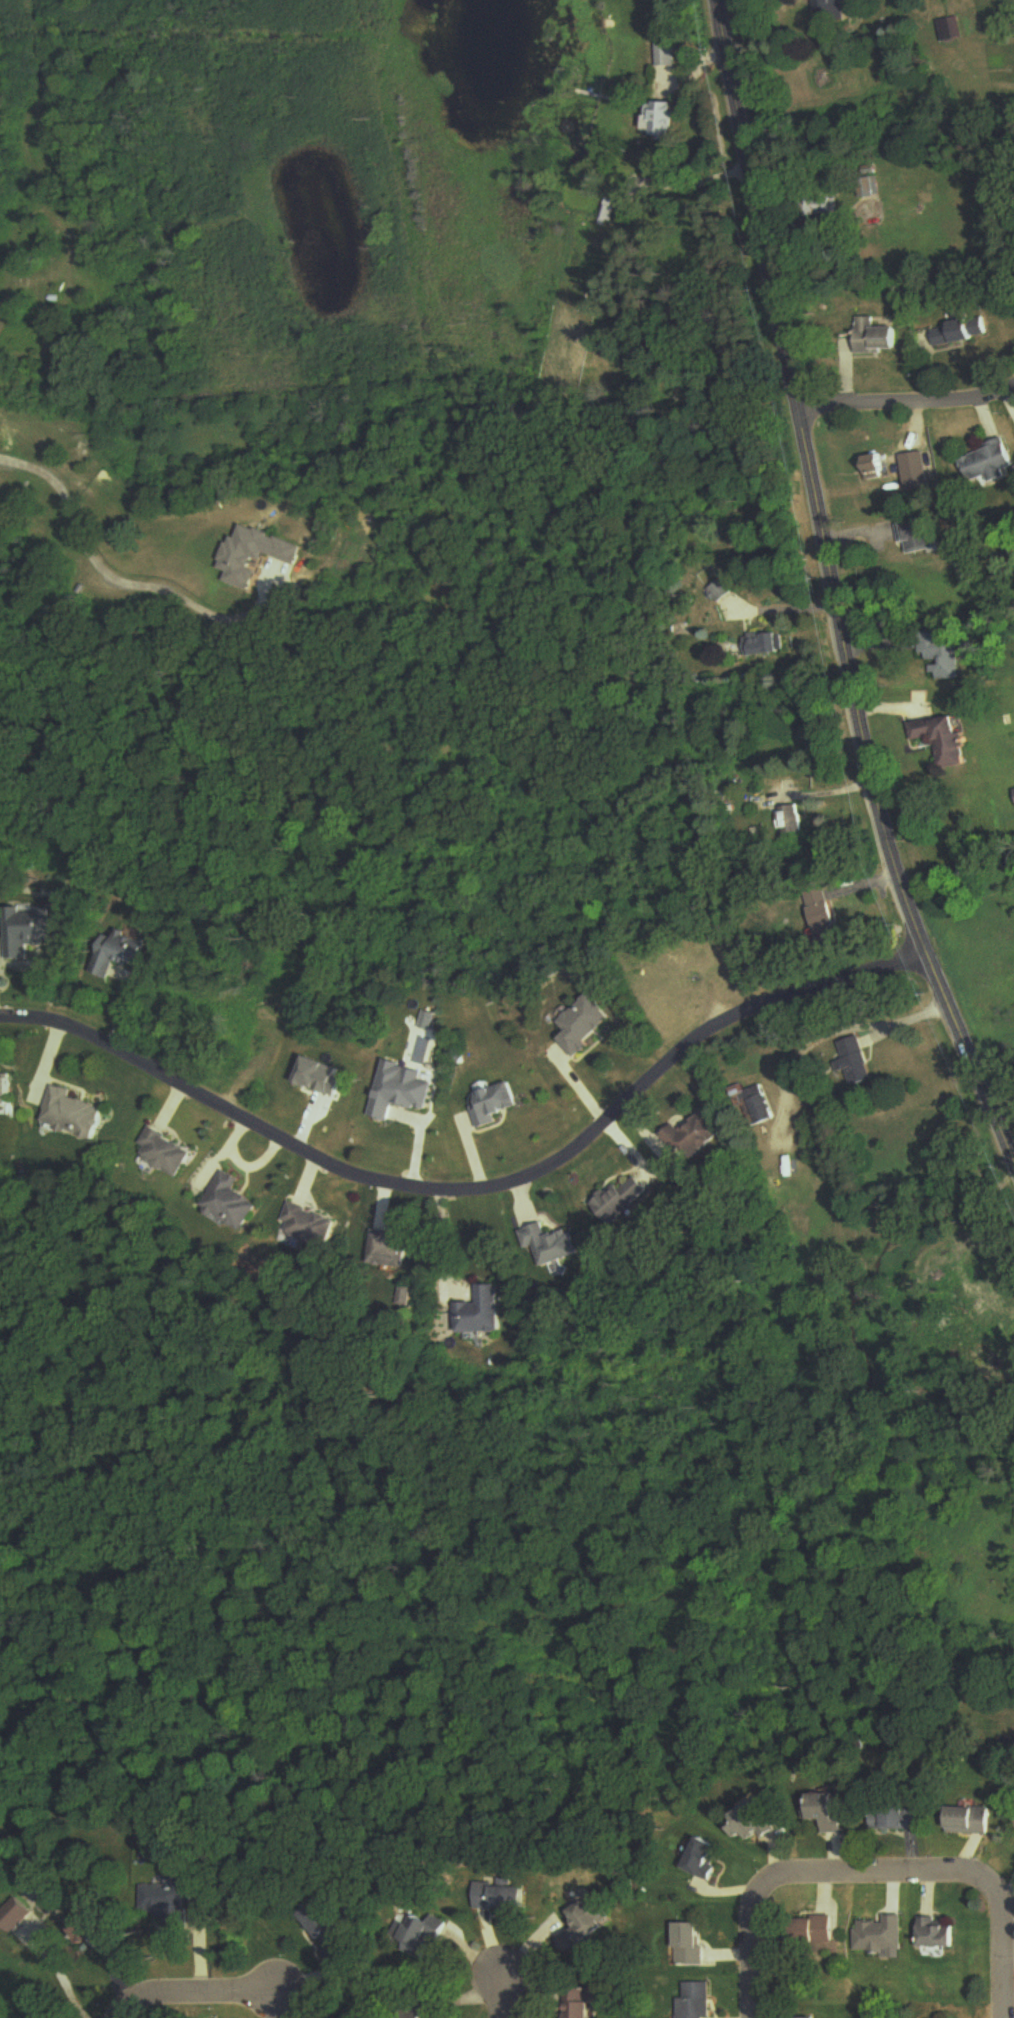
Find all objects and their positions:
building: (834, 12)
building: (952, 29)
building: (662, 55)
building: (668, 120)
building: (832, 205)
building: (960, 332)
building: (878, 337)
road: (907, 407)
building: (991, 464)
building: (879, 469)
building: (926, 476)
building: (923, 537)
road: (113, 576)
road: (834, 589)
building: (722, 591)
building: (767, 645)
building: (945, 656)
building: (948, 740)
building: (792, 821)
building: (827, 920)
building: (31, 932)
building: (125, 955)
building: (585, 1027)
building: (858, 1062)
building: (8, 1092)
building: (756, 1104)
building: (498, 1106)
building: (76, 1115)
building: (697, 1137)
building: (165, 1154)
road: (477, 1186)
building: (625, 1201)
building: (233, 1204)
building: (313, 1227)
road: (446, 1242)
building: (554, 1245)
building: (392, 1250)
building: (484, 1313)
building: (831, 1812)
building: (897, 1818)
building: (971, 1821)
building: (756, 1822)
building: (708, 1860)
road: (879, 1874)
building: (166, 1899)
building: (504, 1900)
building: (15, 1915)
building: (585, 1927)
building: (327, 1930)
building: (816, 1930)
building: (92, 1931)
building: (419, 1934)
building: (939, 1934)
building: (881, 1936)
building: (691, 1944)
road: (758, 1954)
road: (1004, 1954)
road: (194, 1993)
road: (499, 1999)
building: (696, 2000)
building: (579, 2003)

